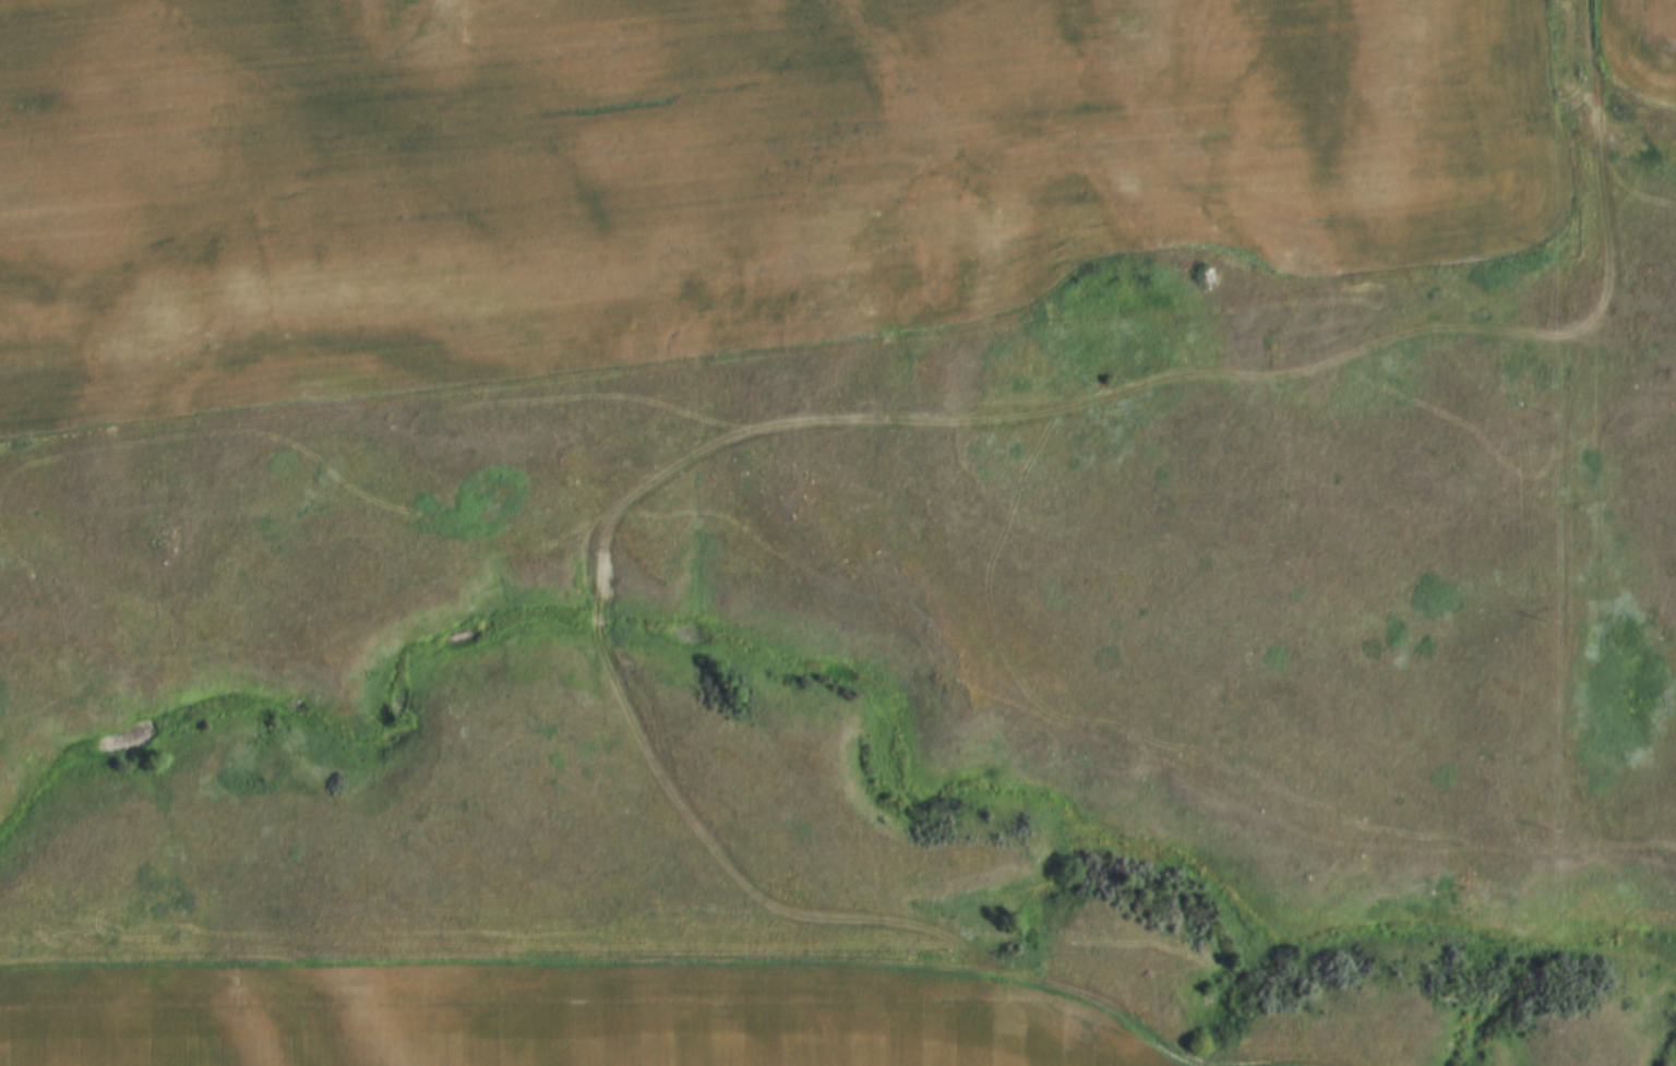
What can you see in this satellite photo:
road: (1592, 33)
road: (877, 423)
road: (628, 840)

